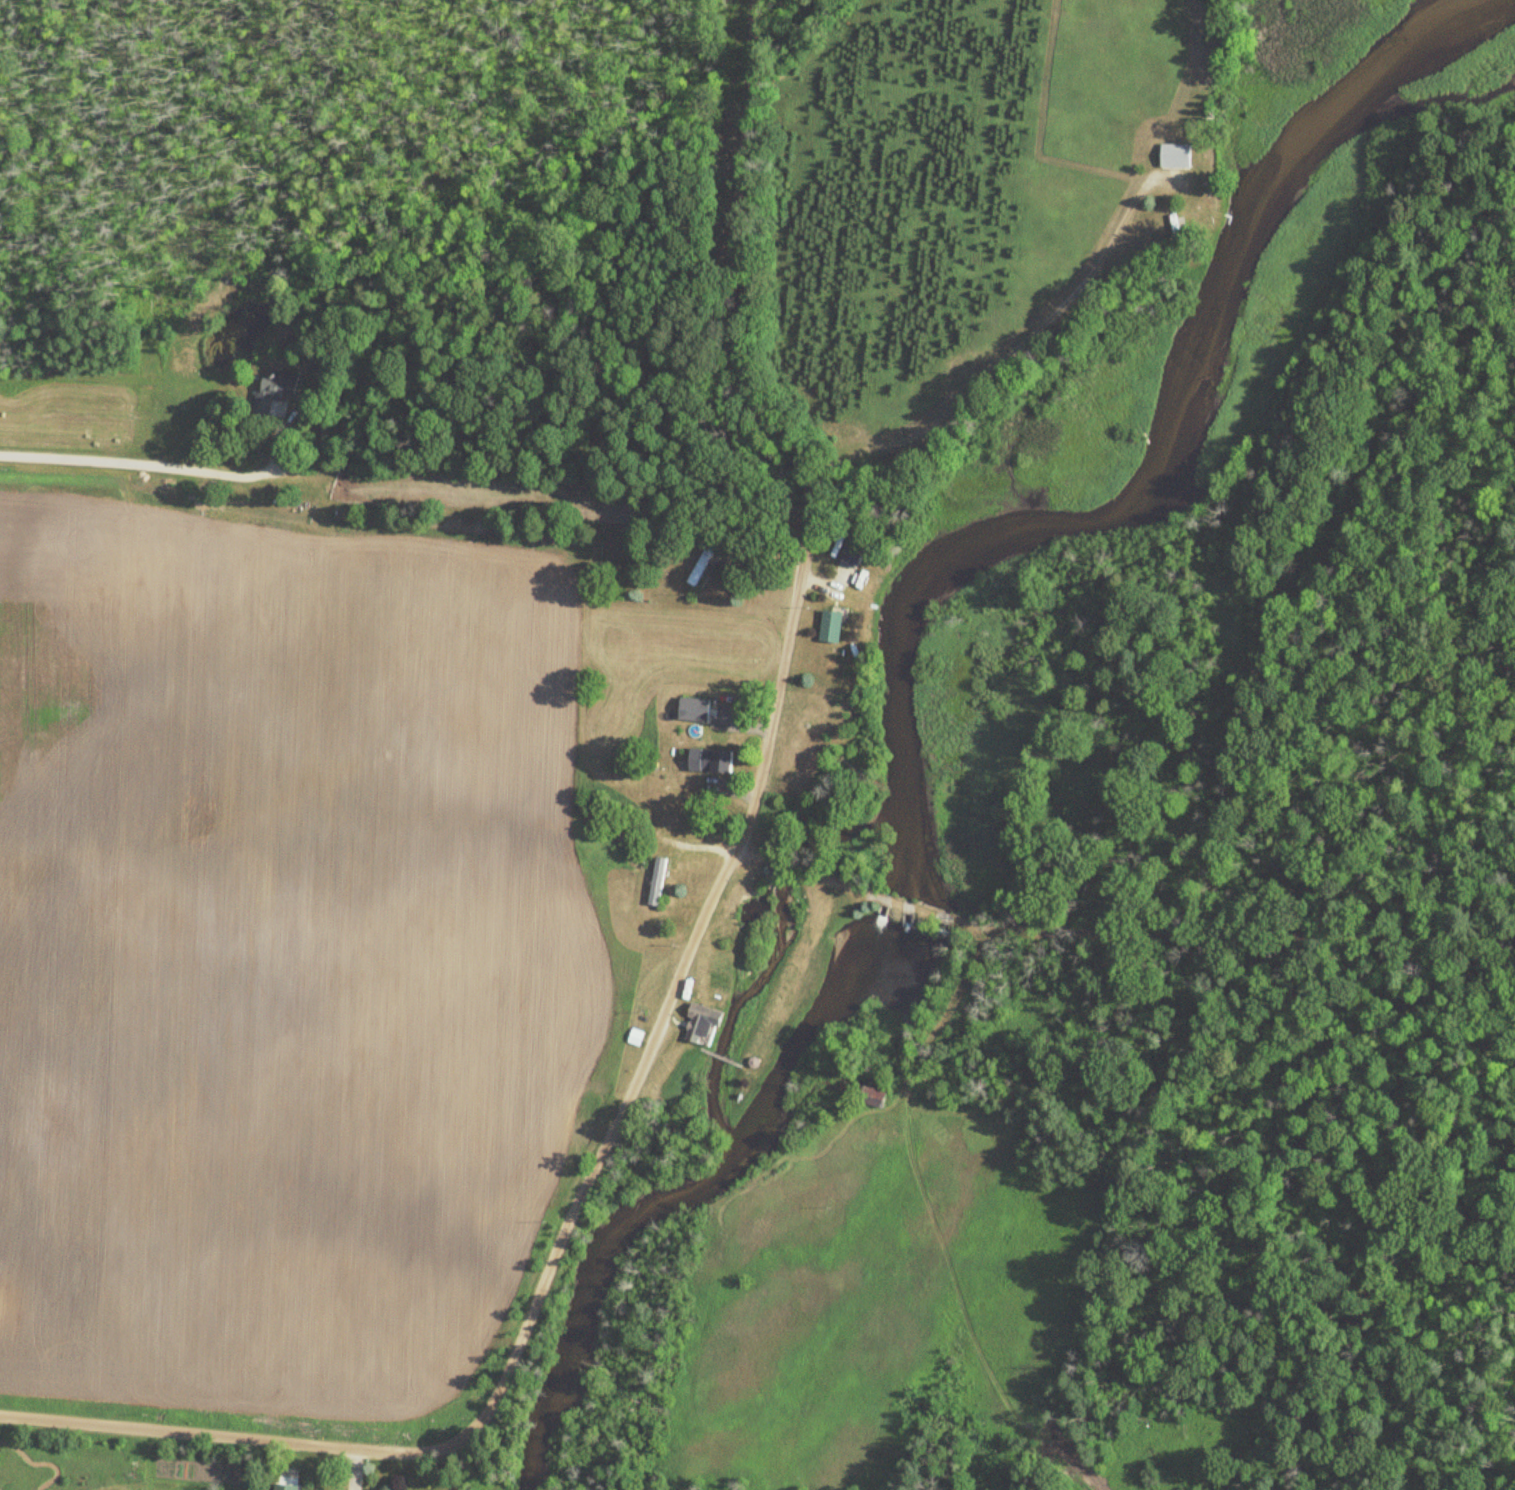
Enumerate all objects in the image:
road: (906, 124)
building: (1174, 156)
road: (991, 370)
building: (277, 386)
road: (137, 463)
building: (850, 553)
building: (699, 566)
building: (829, 626)
river: (896, 660)
building: (692, 709)
road: (767, 741)
building: (708, 761)
building: (655, 882)
dam: (884, 905)
park: (747, 907)
road: (800, 908)
building: (699, 1025)
building: (874, 1097)
road: (231, 1431)

